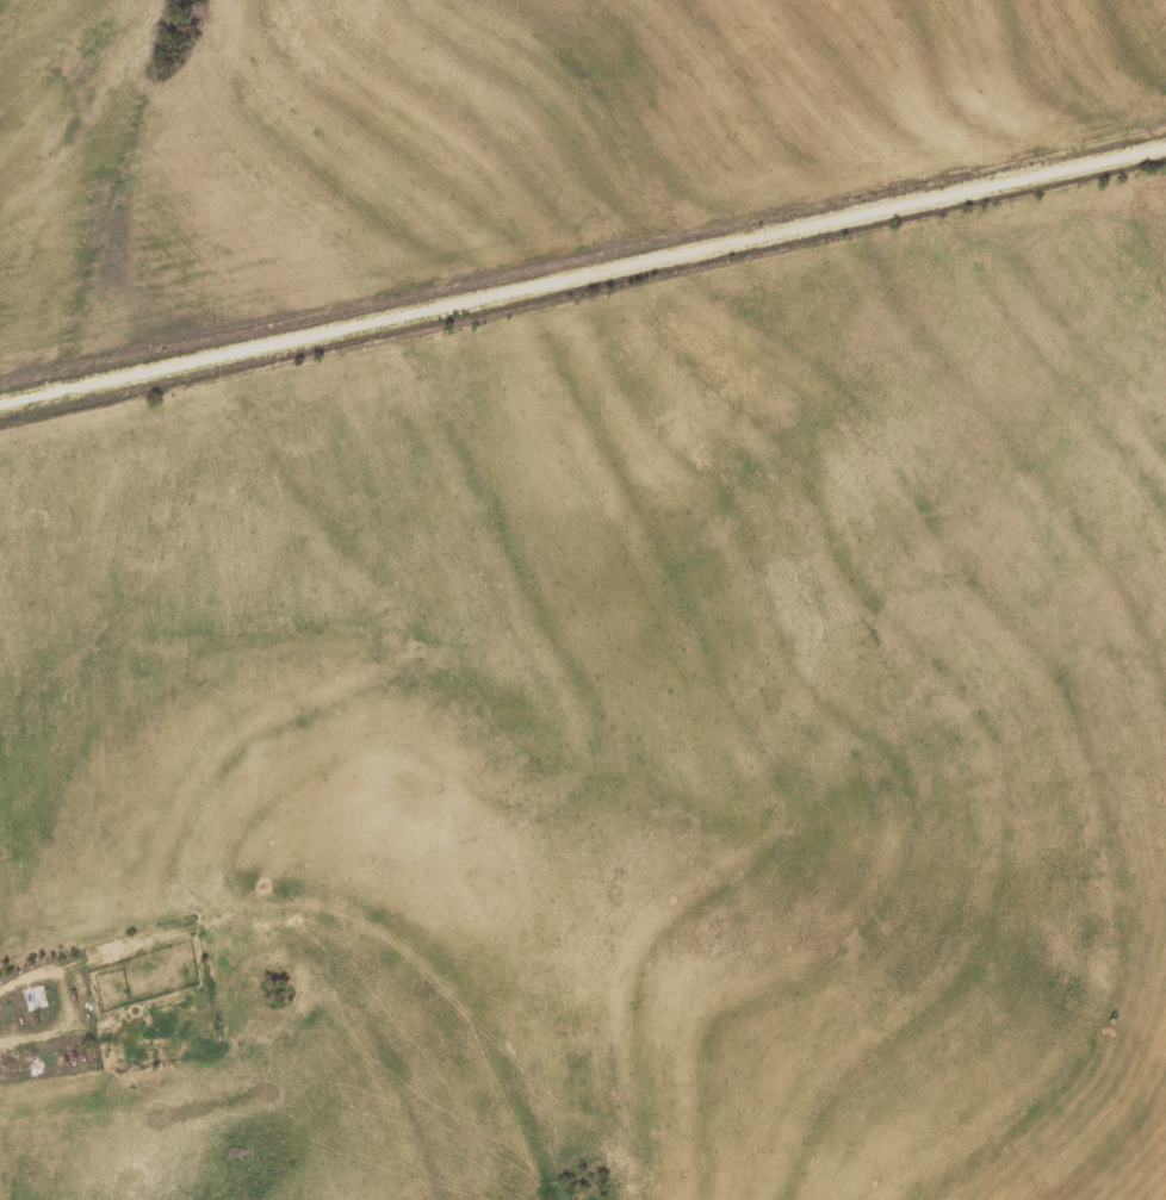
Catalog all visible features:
road: (583, 275)

